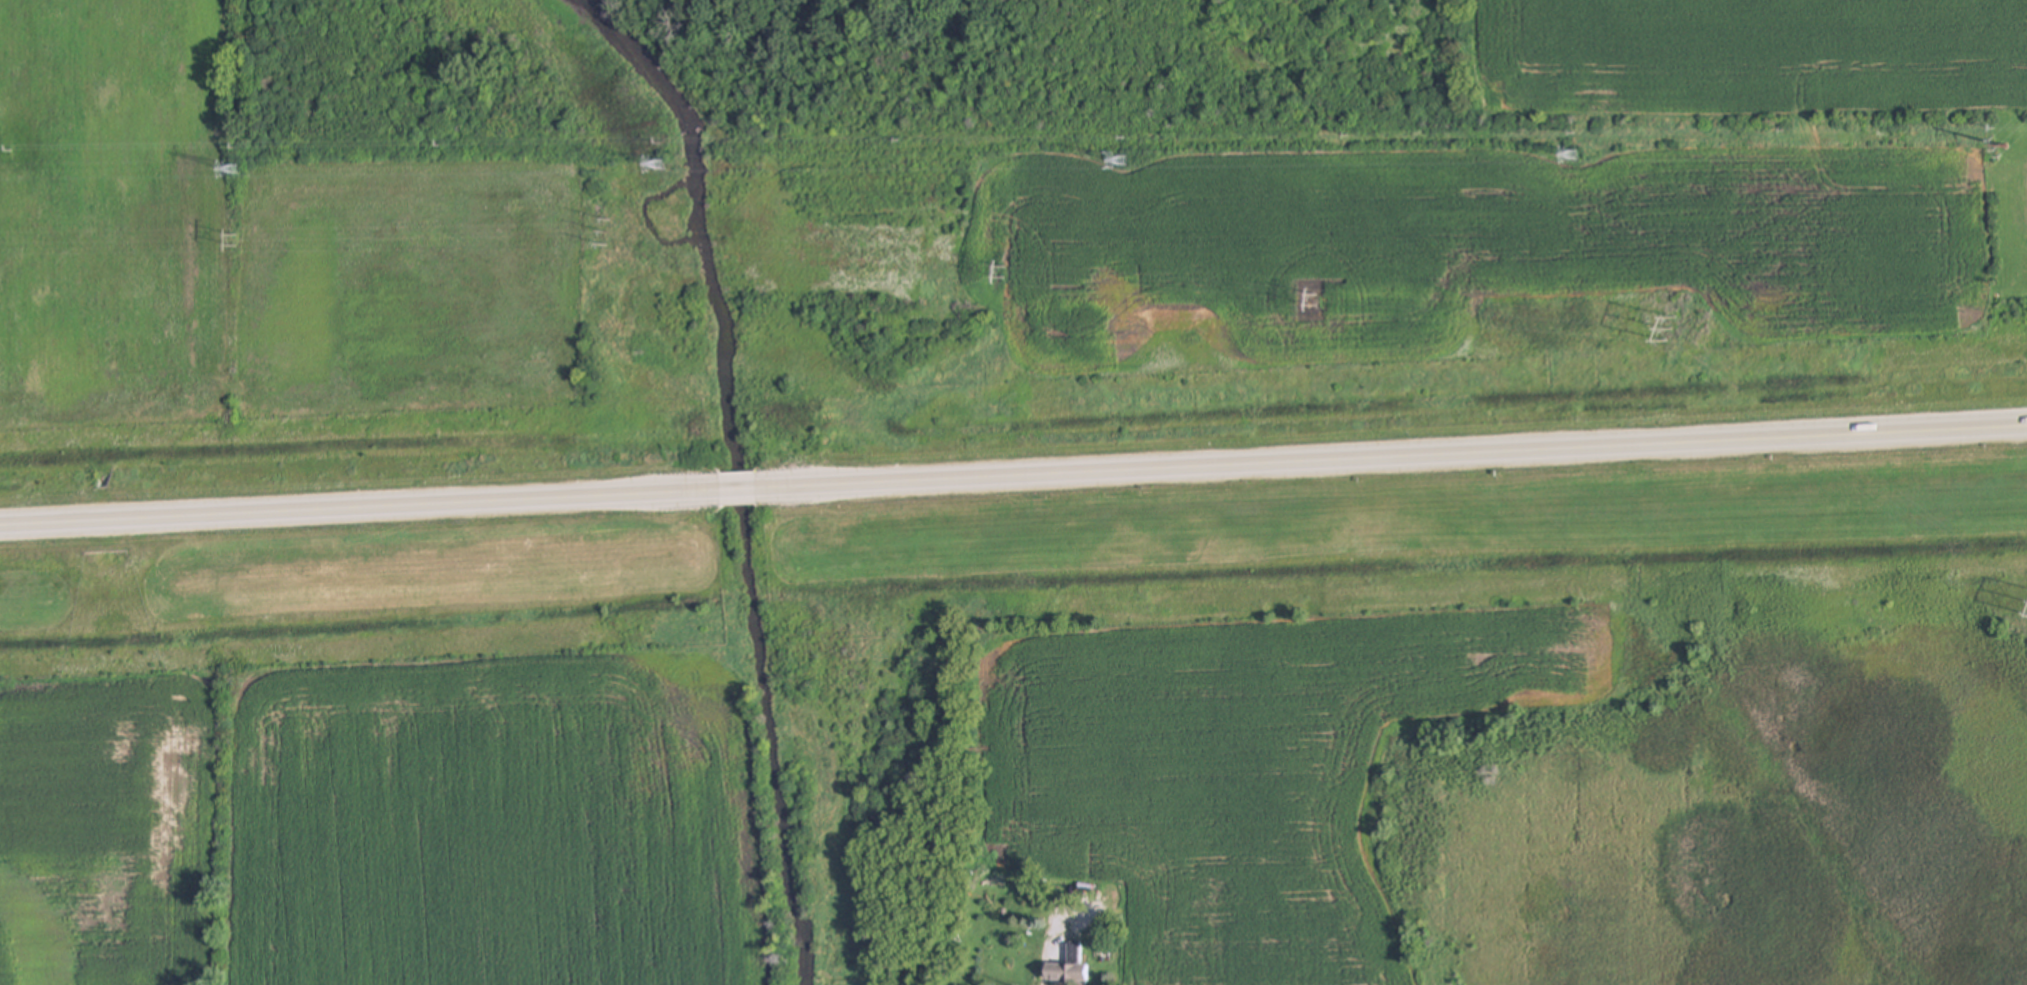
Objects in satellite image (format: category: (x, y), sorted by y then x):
power tower: (2006, 148)
power tower: (1575, 155)
power tower: (1123, 161)
power tower: (659, 166)
power tower: (234, 169)
crop: (1549, 204)
power tower: (610, 234)
power tower: (234, 241)
crop: (247, 249)
power tower: (1006, 273)
power tower: (1317, 301)
power tower: (1670, 331)
road: (1390, 458)
road: (736, 491)
road: (359, 510)
road: (1044, 962)
building: (1068, 969)

